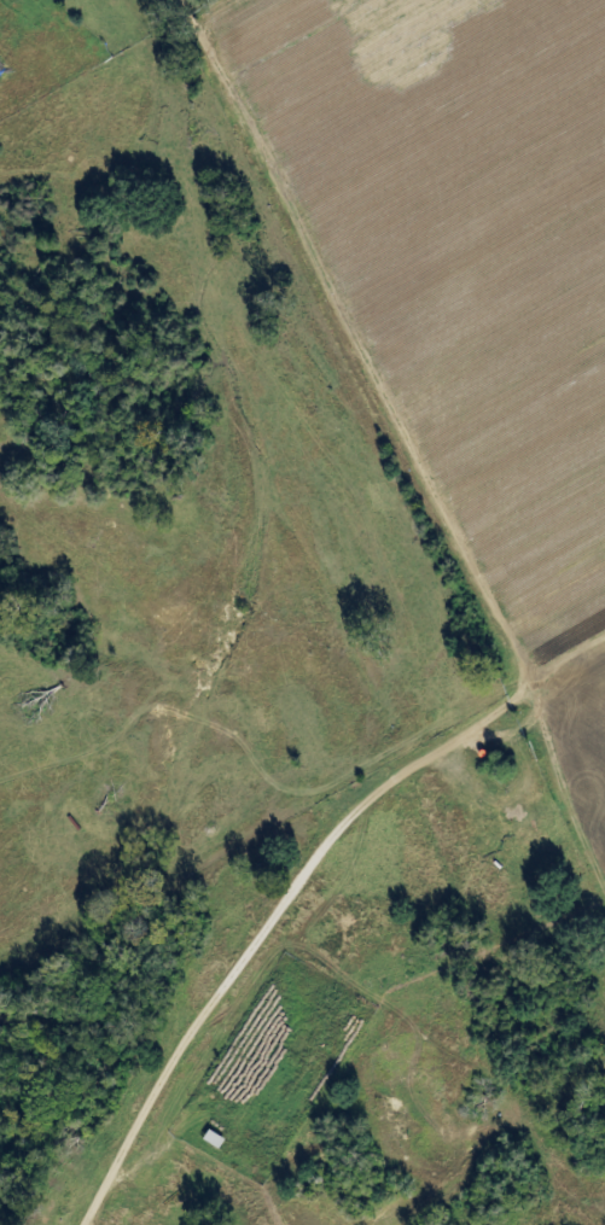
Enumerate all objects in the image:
road: (568, 781)
road: (260, 813)
road: (272, 926)

